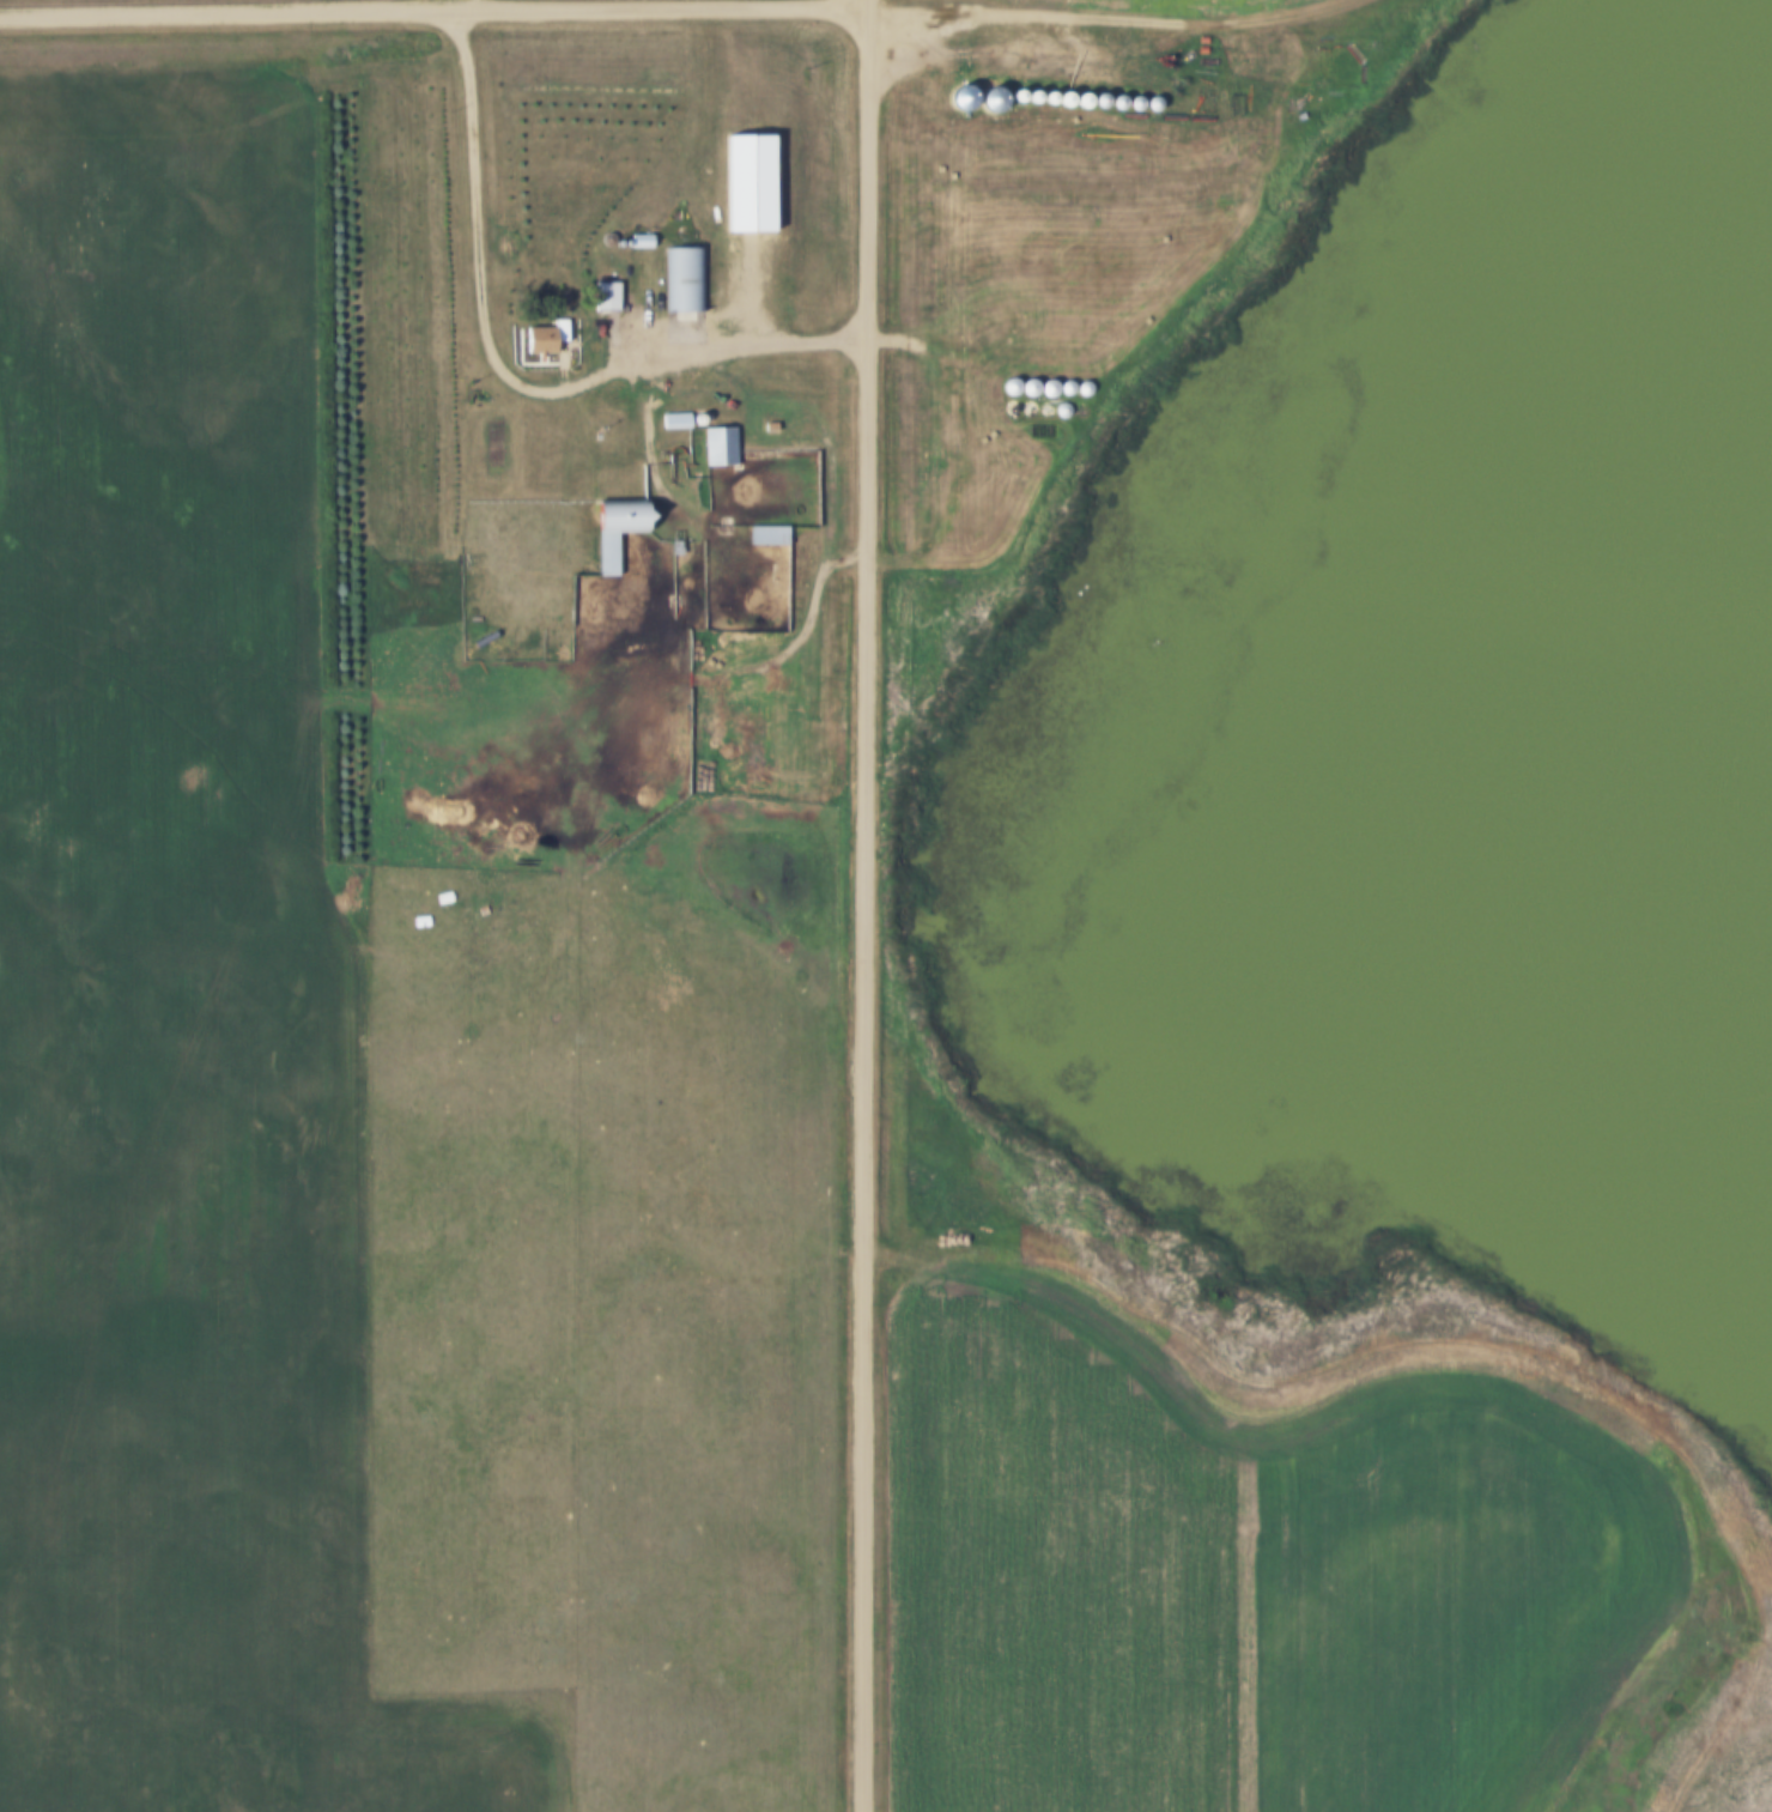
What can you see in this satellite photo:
road: (435, 10)
road: (1105, 14)
building: (688, 281)
building: (608, 299)
building: (550, 343)
road: (510, 372)
building: (723, 449)
building: (772, 538)
building: (611, 557)
road: (868, 905)

